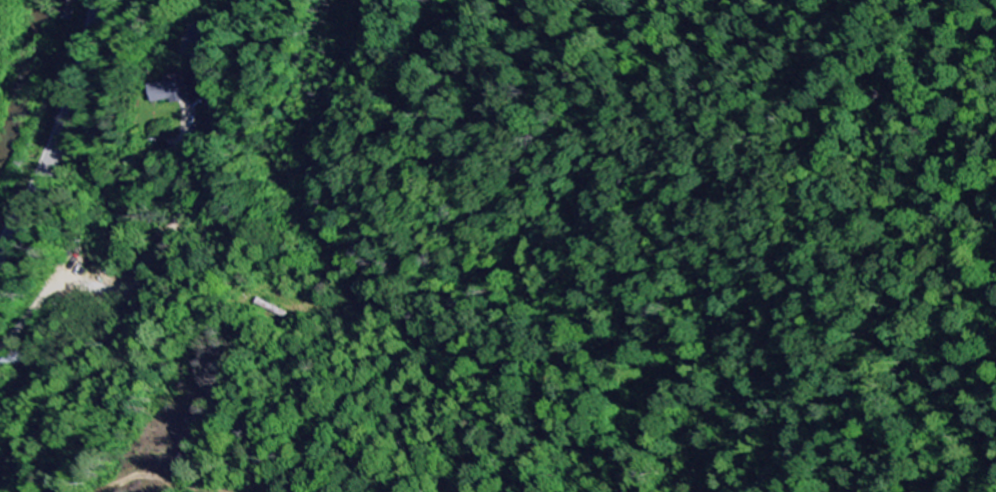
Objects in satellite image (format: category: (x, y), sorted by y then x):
building: (173, 91)
road: (60, 130)
road: (88, 277)

